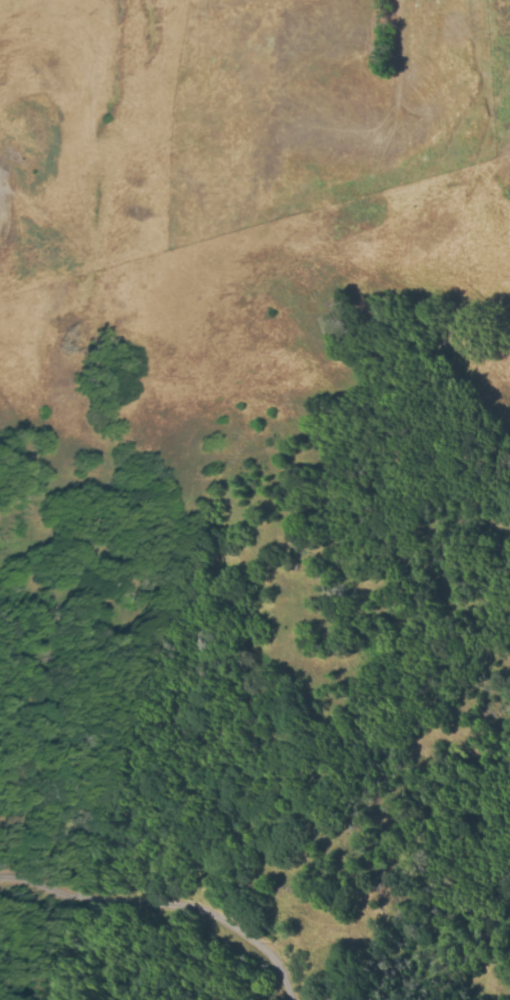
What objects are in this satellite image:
road: (164, 904)

